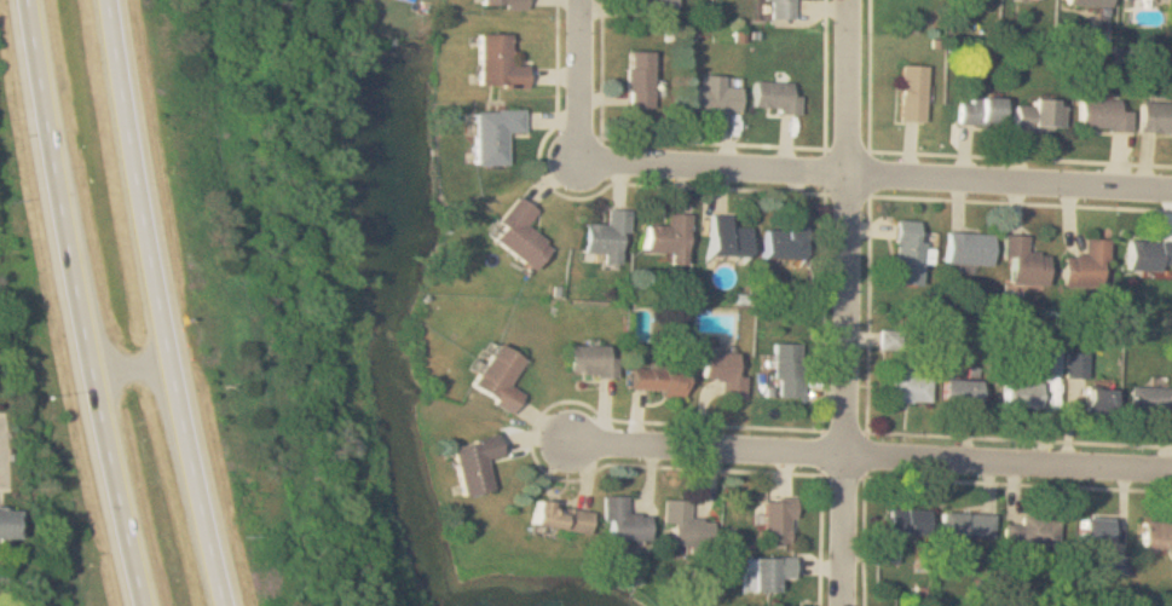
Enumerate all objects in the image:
building: (1087, 1)
building: (498, 4)
building: (659, 4)
building: (776, 8)
building: (493, 62)
building: (636, 79)
road: (578, 80)
building: (908, 92)
building: (708, 94)
building: (770, 96)
building: (977, 110)
building: (1037, 114)
building: (1099, 114)
building: (1154, 115)
building: (490, 134)
road: (714, 163)
road: (1011, 180)
building: (515, 233)
building: (602, 236)
building: (665, 237)
building: (723, 237)
building: (781, 239)
building: (965, 249)
building: (905, 254)
building: (1149, 254)
building: (1022, 262)
building: (1084, 265)
road: (849, 302)
road: (82, 304)
road: (160, 304)
building: (888, 340)
building: (588, 362)
building: (1047, 362)
road: (134, 363)
building: (785, 370)
building: (721, 374)
building: (496, 377)
building: (653, 379)
building: (907, 387)
building: (957, 393)
building: (1018, 396)
building: (1096, 400)
building: (1150, 400)
road: (859, 452)
building: (472, 463)
building: (558, 518)
building: (620, 521)
building: (775, 521)
building: (903, 521)
building: (7, 525)
building: (683, 525)
building: (964, 525)
building: (1093, 531)
building: (1030, 532)
building: (1156, 535)
building: (766, 573)

